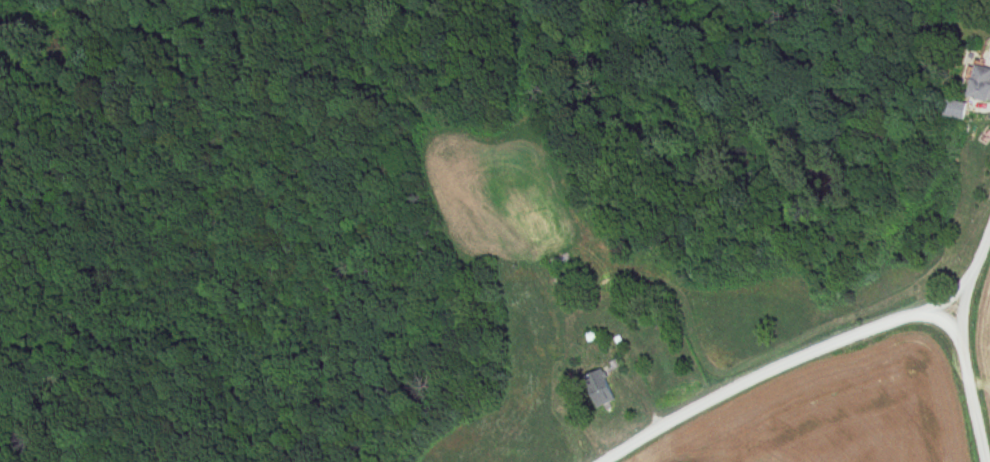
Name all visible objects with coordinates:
building: (976, 83)
building: (951, 110)
road: (958, 326)
road: (814, 350)
building: (595, 388)
road: (968, 398)

